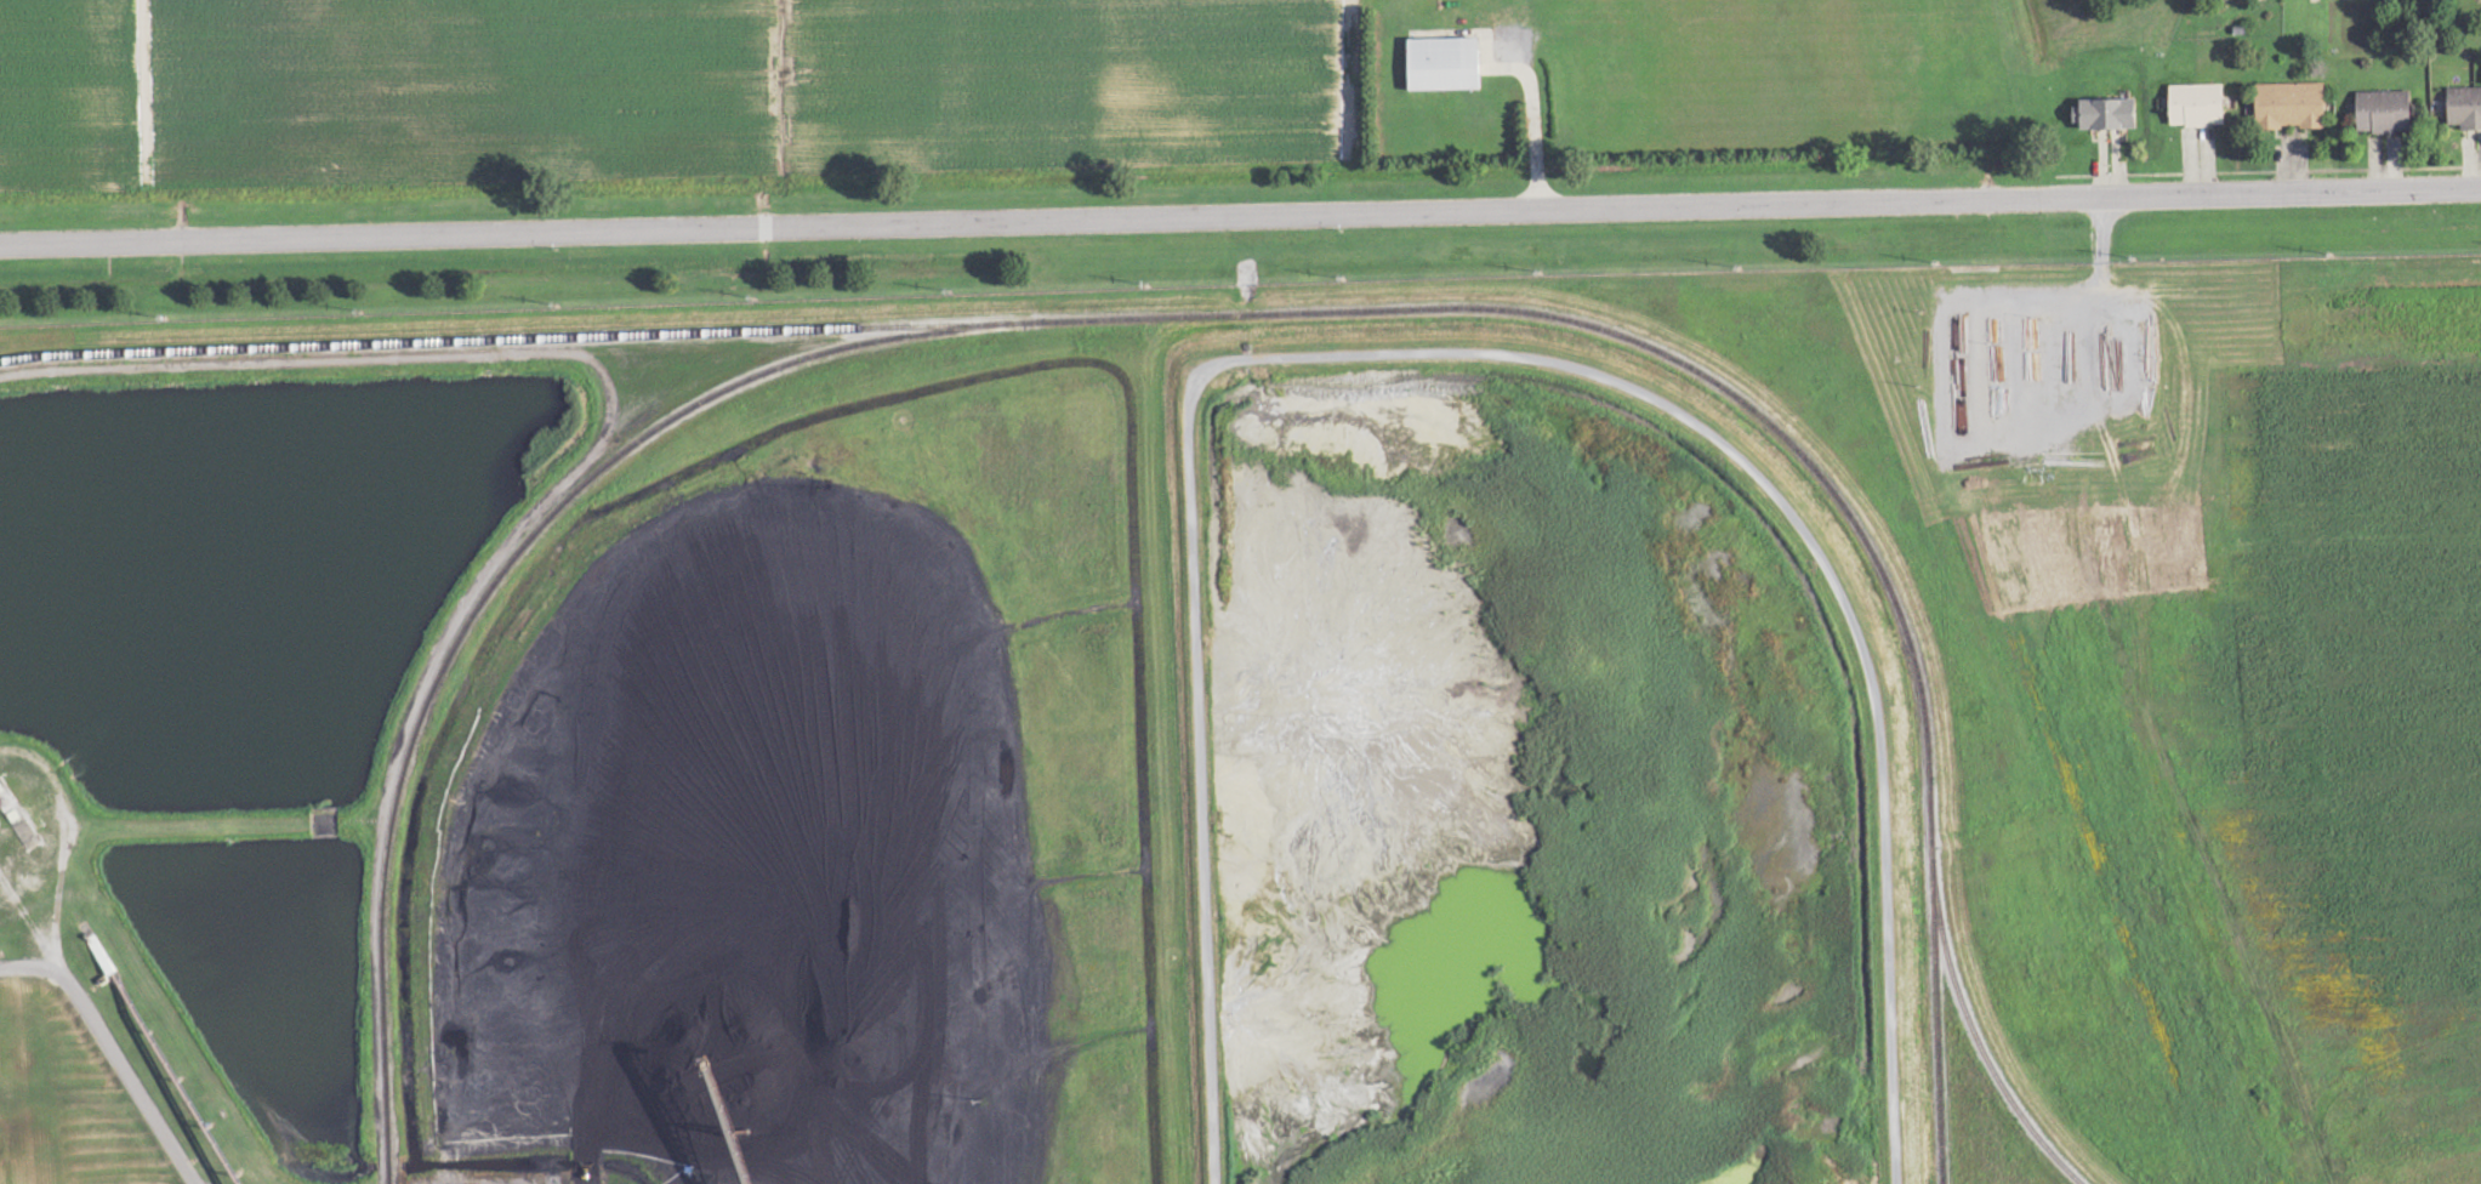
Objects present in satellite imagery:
building: (1442, 63)
building: (2198, 106)
building: (2291, 106)
building: (2464, 108)
building: (2384, 113)
building: (2106, 115)
road: (1631, 204)
road: (389, 234)
railway: (1326, 311)
railway: (491, 588)
power plant: (973, 747)
railway: (1942, 1008)
road: (112, 1049)

